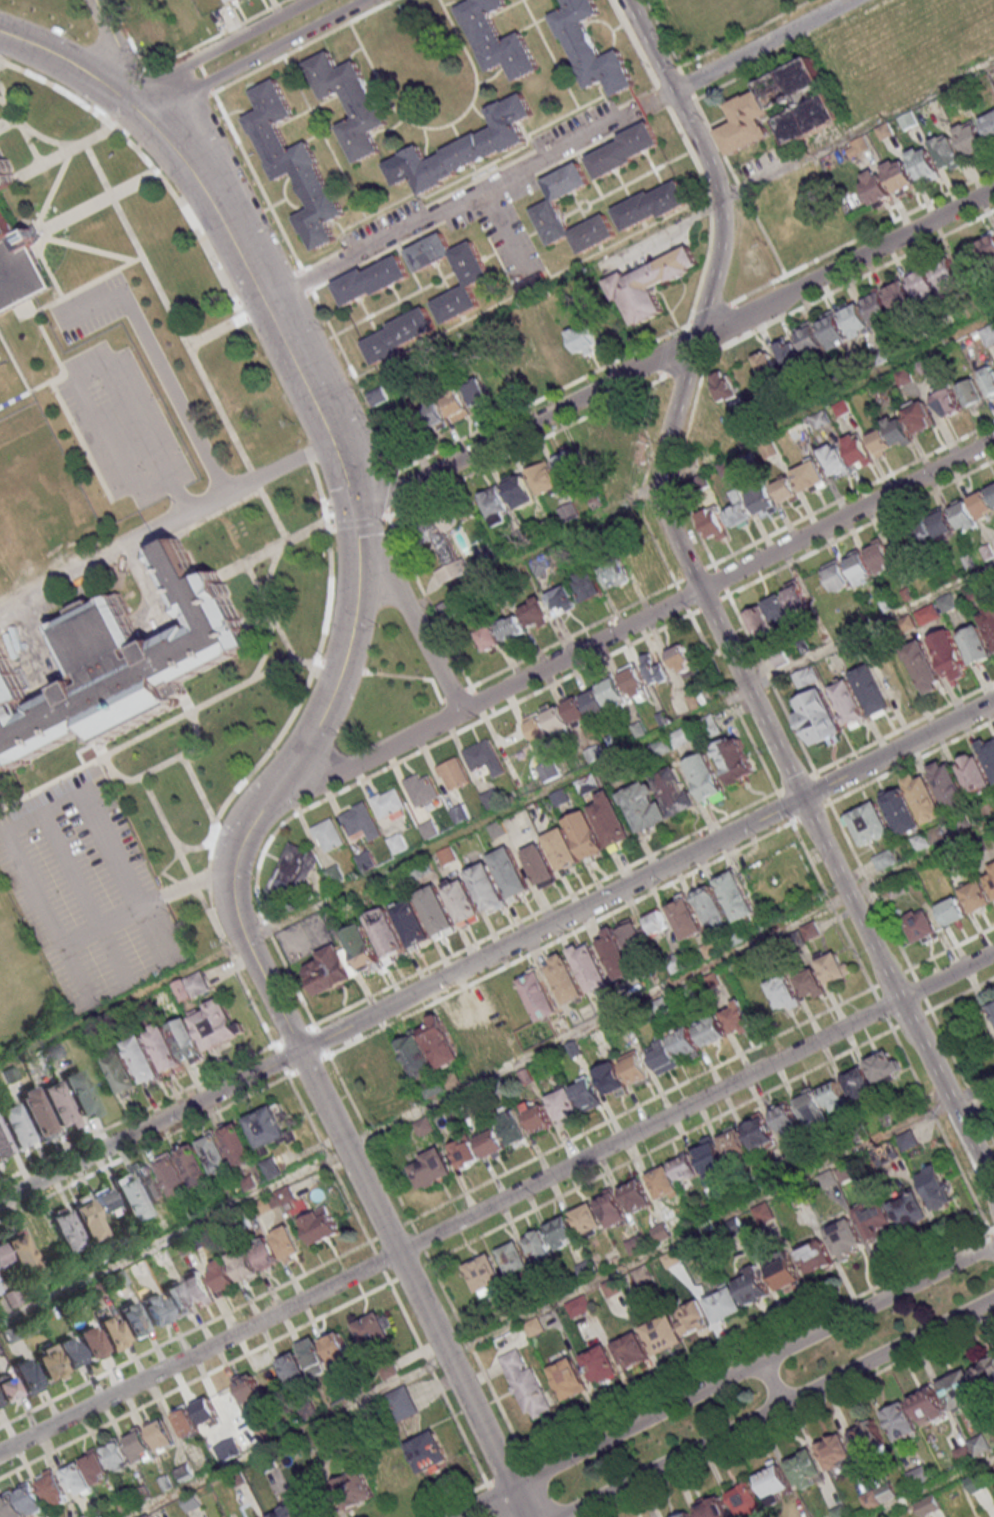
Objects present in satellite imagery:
building: (230, 0)
building: (154, 28)
road: (126, 37)
road: (218, 37)
road: (233, 39)
building: (498, 40)
road: (763, 46)
road: (303, 47)
building: (590, 49)
road: (269, 52)
road: (113, 55)
road: (3, 64)
road: (73, 67)
road: (209, 87)
road: (129, 96)
building: (802, 102)
road: (153, 103)
building: (350, 104)
building: (907, 120)
building: (745, 125)
building: (990, 126)
parking lot: (572, 129)
road: (856, 131)
road: (31, 132)
building: (971, 140)
building: (464, 150)
road: (67, 152)
building: (623, 152)
building: (947, 153)
building: (294, 165)
building: (923, 165)
road: (475, 172)
building: (899, 177)
road: (479, 180)
road: (168, 186)
road: (741, 189)
building: (876, 189)
road: (416, 197)
road: (100, 200)
road: (285, 200)
road: (266, 202)
road: (420, 204)
road: (274, 206)
building: (651, 207)
road: (448, 208)
building: (549, 208)
road: (244, 220)
parking lot: (383, 229)
road: (669, 235)
road: (46, 236)
road: (863, 236)
road: (347, 244)
building: (16, 251)
building: (980, 251)
building: (945, 271)
building: (372, 282)
building: (475, 283)
road: (849, 283)
building: (530, 284)
building: (649, 286)
building: (910, 291)
road: (797, 293)
road: (266, 303)
parking lot: (88, 305)
road: (166, 306)
building: (877, 307)
road: (711, 314)
building: (855, 319)
road: (37, 321)
road: (723, 328)
building: (833, 330)
building: (988, 334)
building: (400, 337)
building: (582, 338)
building: (810, 339)
road: (674, 352)
building: (789, 352)
building: (547, 358)
building: (765, 363)
road: (688, 365)
road: (162, 370)
building: (518, 374)
building: (988, 380)
road: (74, 385)
building: (723, 385)
building: (477, 393)
building: (971, 393)
building: (376, 395)
road: (545, 398)
building: (945, 400)
road: (677, 401)
building: (455, 405)
building: (918, 416)
building: (418, 423)
parking lot: (124, 425)
building: (798, 429)
building: (897, 430)
building: (619, 436)
building: (879, 441)
road: (529, 447)
building: (592, 450)
building: (768, 450)
building: (857, 450)
road: (309, 459)
building: (835, 459)
building: (568, 463)
road: (702, 464)
road: (254, 477)
building: (544, 478)
road: (180, 491)
road: (320, 491)
road: (393, 491)
building: (520, 491)
road: (849, 495)
building: (983, 501)
building: (496, 506)
building: (739, 509)
road: (274, 514)
building: (964, 514)
traffic signals: (356, 515)
road: (360, 522)
road: (166, 524)
building: (714, 524)
road: (329, 527)
road: (857, 530)
building: (932, 530)
building: (444, 544)
road: (281, 545)
building: (880, 556)
building: (638, 560)
building: (539, 564)
building: (858, 568)
building: (614, 574)
road: (694, 575)
building: (835, 576)
building: (588, 584)
building: (562, 599)
building: (797, 599)
road: (430, 601)
road: (710, 604)
building: (446, 609)
road: (411, 611)
building: (536, 611)
building: (927, 614)
building: (768, 616)
road: (645, 617)
road: (275, 621)
building: (989, 622)
building: (509, 628)
road: (575, 635)
building: (488, 637)
building: (975, 644)
building: (949, 655)
building: (680, 657)
building: (123, 665)
building: (654, 667)
building: (922, 667)
building: (635, 683)
building: (872, 692)
road: (453, 695)
road: (483, 700)
building: (595, 701)
road: (293, 711)
building: (818, 718)
building: (555, 719)
building: (710, 726)
road: (159, 728)
building: (537, 728)
road: (905, 728)
building: (681, 736)
building: (484, 757)
building: (736, 759)
road: (912, 762)
road: (390, 767)
building: (978, 768)
building: (548, 770)
building: (453, 773)
building: (706, 777)
road: (799, 782)
road: (273, 786)
building: (421, 788)
road: (822, 788)
building: (950, 791)
building: (659, 801)
building: (926, 802)
building: (390, 803)
building: (459, 813)
road: (497, 817)
building: (612, 821)
building: (361, 822)
building: (869, 824)
building: (429, 829)
building: (328, 834)
building: (586, 834)
building: (920, 841)
building: (397, 842)
road: (7, 846)
building: (562, 849)
building: (446, 855)
building: (884, 859)
building: (365, 860)
building: (540, 865)
building: (293, 870)
building: (511, 874)
road: (645, 875)
road: (209, 878)
building: (991, 878)
building: (328, 880)
road: (870, 886)
building: (487, 887)
parking lot: (89, 889)
road: (86, 894)
building: (736, 894)
building: (976, 896)
road: (211, 897)
road: (849, 899)
building: (464, 902)
building: (710, 905)
road: (548, 908)
building: (952, 910)
building: (438, 912)
building: (685, 917)
building: (655, 921)
road: (215, 922)
building: (413, 923)
building: (921, 924)
road: (100, 928)
building: (810, 930)
building: (387, 935)
building: (631, 935)
building: (363, 949)
road: (952, 949)
building: (615, 954)
building: (589, 966)
building: (833, 967)
building: (332, 969)
road: (907, 971)
building: (565, 979)
road: (890, 979)
building: (810, 983)
building: (192, 987)
road: (921, 990)
building: (783, 993)
road: (249, 995)
building: (538, 995)
road: (927, 1010)
building: (991, 1010)
building: (737, 1017)
road: (910, 1017)
building: (492, 1019)
building: (214, 1024)
building: (710, 1030)
building: (452, 1035)
building: (187, 1039)
road: (320, 1041)
building: (685, 1043)
road: (947, 1045)
building: (163, 1049)
building: (415, 1055)
building: (662, 1057)
building: (143, 1059)
road: (281, 1060)
building: (884, 1065)
building: (634, 1067)
building: (121, 1071)
road: (495, 1071)
building: (380, 1075)
building: (611, 1079)
building: (858, 1082)
road: (949, 1090)
building: (77, 1091)
building: (833, 1096)
building: (574, 1100)
building: (55, 1103)
road: (639, 1106)
building: (811, 1108)
road: (305, 1111)
building: (34, 1112)
building: (537, 1117)
building: (786, 1117)
building: (13, 1125)
road: (148, 1126)
building: (268, 1127)
building: (423, 1127)
building: (512, 1127)
building: (747, 1138)
building: (490, 1142)
road: (371, 1143)
road: (660, 1143)
building: (3, 1144)
building: (238, 1145)
road: (146, 1147)
building: (464, 1152)
building: (215, 1153)
building: (709, 1156)
road: (328, 1159)
building: (194, 1165)
building: (429, 1167)
building: (684, 1167)
building: (173, 1176)
building: (661, 1181)
building: (149, 1182)
building: (936, 1187)
building: (635, 1195)
building: (285, 1196)
building: (130, 1199)
building: (104, 1200)
road: (496, 1202)
building: (611, 1207)
road: (353, 1208)
building: (908, 1209)
building: (873, 1217)
building: (586, 1218)
building: (87, 1220)
building: (319, 1225)
building: (65, 1231)
road: (389, 1231)
building: (660, 1231)
building: (561, 1232)
building: (845, 1239)
building: (285, 1241)
road: (420, 1243)
building: (536, 1243)
building: (635, 1244)
building: (689, 1250)
building: (264, 1252)
building: (19, 1255)
building: (511, 1256)
building: (816, 1257)
building: (671, 1259)
road: (378, 1261)
building: (242, 1263)
building: (586, 1269)
building: (139, 1270)
road: (409, 1270)
building: (785, 1273)
building: (221, 1274)
building: (483, 1274)
building: (642, 1274)
road: (411, 1284)
building: (196, 1286)
building: (752, 1286)
building: (175, 1297)
road: (559, 1299)
building: (9, 1302)
building: (725, 1303)
building: (576, 1307)
building: (154, 1310)
building: (691, 1317)
building: (131, 1319)
building: (371, 1328)
building: (110, 1329)
building: (19, 1332)
road: (188, 1332)
building: (662, 1334)
building: (88, 1340)
building: (336, 1347)
road: (761, 1347)
building: (630, 1350)
building: (67, 1351)
building: (313, 1356)
road: (477, 1358)
building: (47, 1361)
building: (600, 1365)
building: (291, 1367)
building: (984, 1372)
building: (23, 1373)
road: (198, 1376)
road: (435, 1377)
building: (568, 1379)
road: (721, 1379)
road: (770, 1382)
building: (525, 1385)
building: (248, 1388)
building: (959, 1389)
building: (7, 1390)
building: (226, 1398)
building: (401, 1404)
building: (928, 1405)
road: (775, 1407)
building: (204, 1410)
road: (793, 1416)
building: (184, 1420)
building: (900, 1420)
building: (161, 1435)
building: (868, 1435)
building: (139, 1446)
building: (835, 1450)
building: (427, 1451)
building: (117, 1456)
building: (96, 1468)
building: (805, 1469)
road: (508, 1475)
building: (77, 1478)
building: (775, 1484)
building: (50, 1485)
road: (933, 1486)
building: (347, 1491)
road: (541, 1491)
building: (29, 1497)
road: (495, 1500)
building: (746, 1500)
building: (191, 1501)
road: (455, 1501)
building: (11, 1507)
building: (712, 1507)
building: (284, 1511)
building: (685, 1514)
building: (145, 1515)

